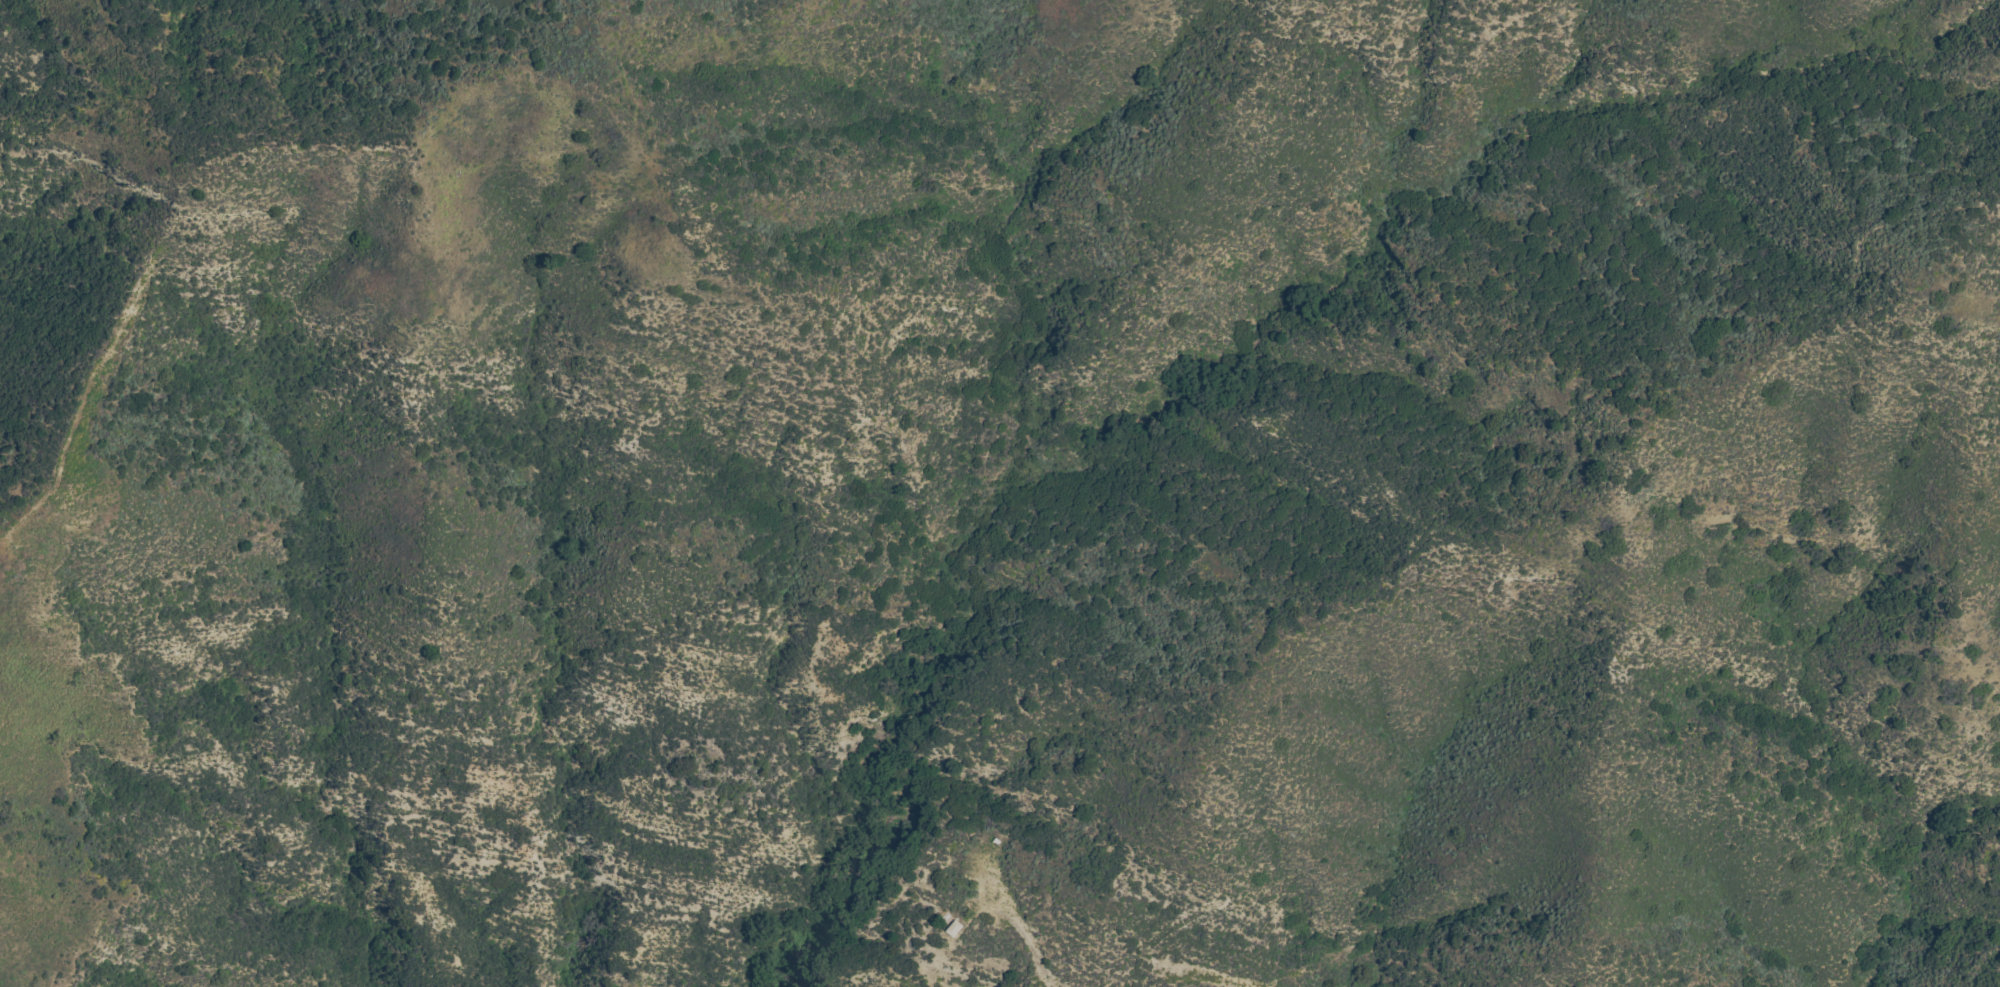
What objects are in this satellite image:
road: (1150, 961)

